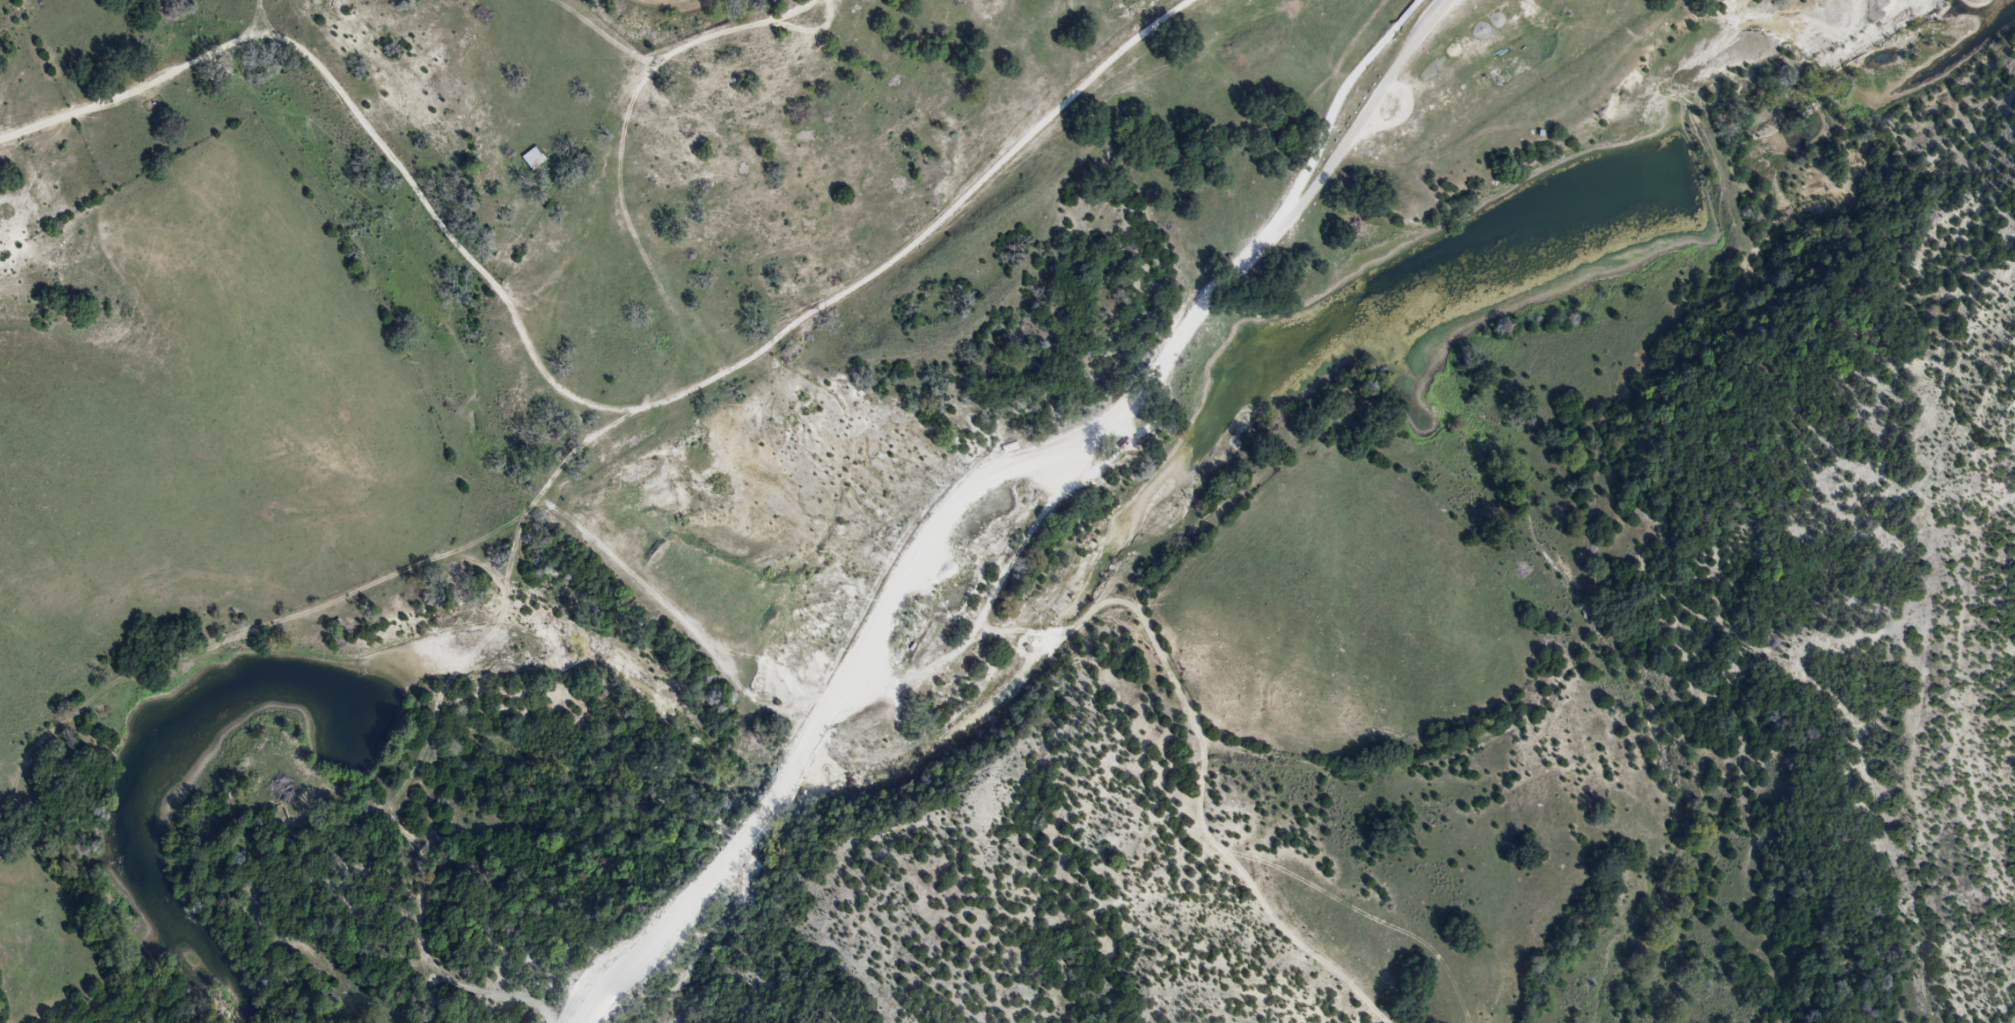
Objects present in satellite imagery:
road: (1368, 107)
park: (1281, 129)
building: (527, 158)
road: (979, 484)
road: (1168, 667)
road: (905, 680)

